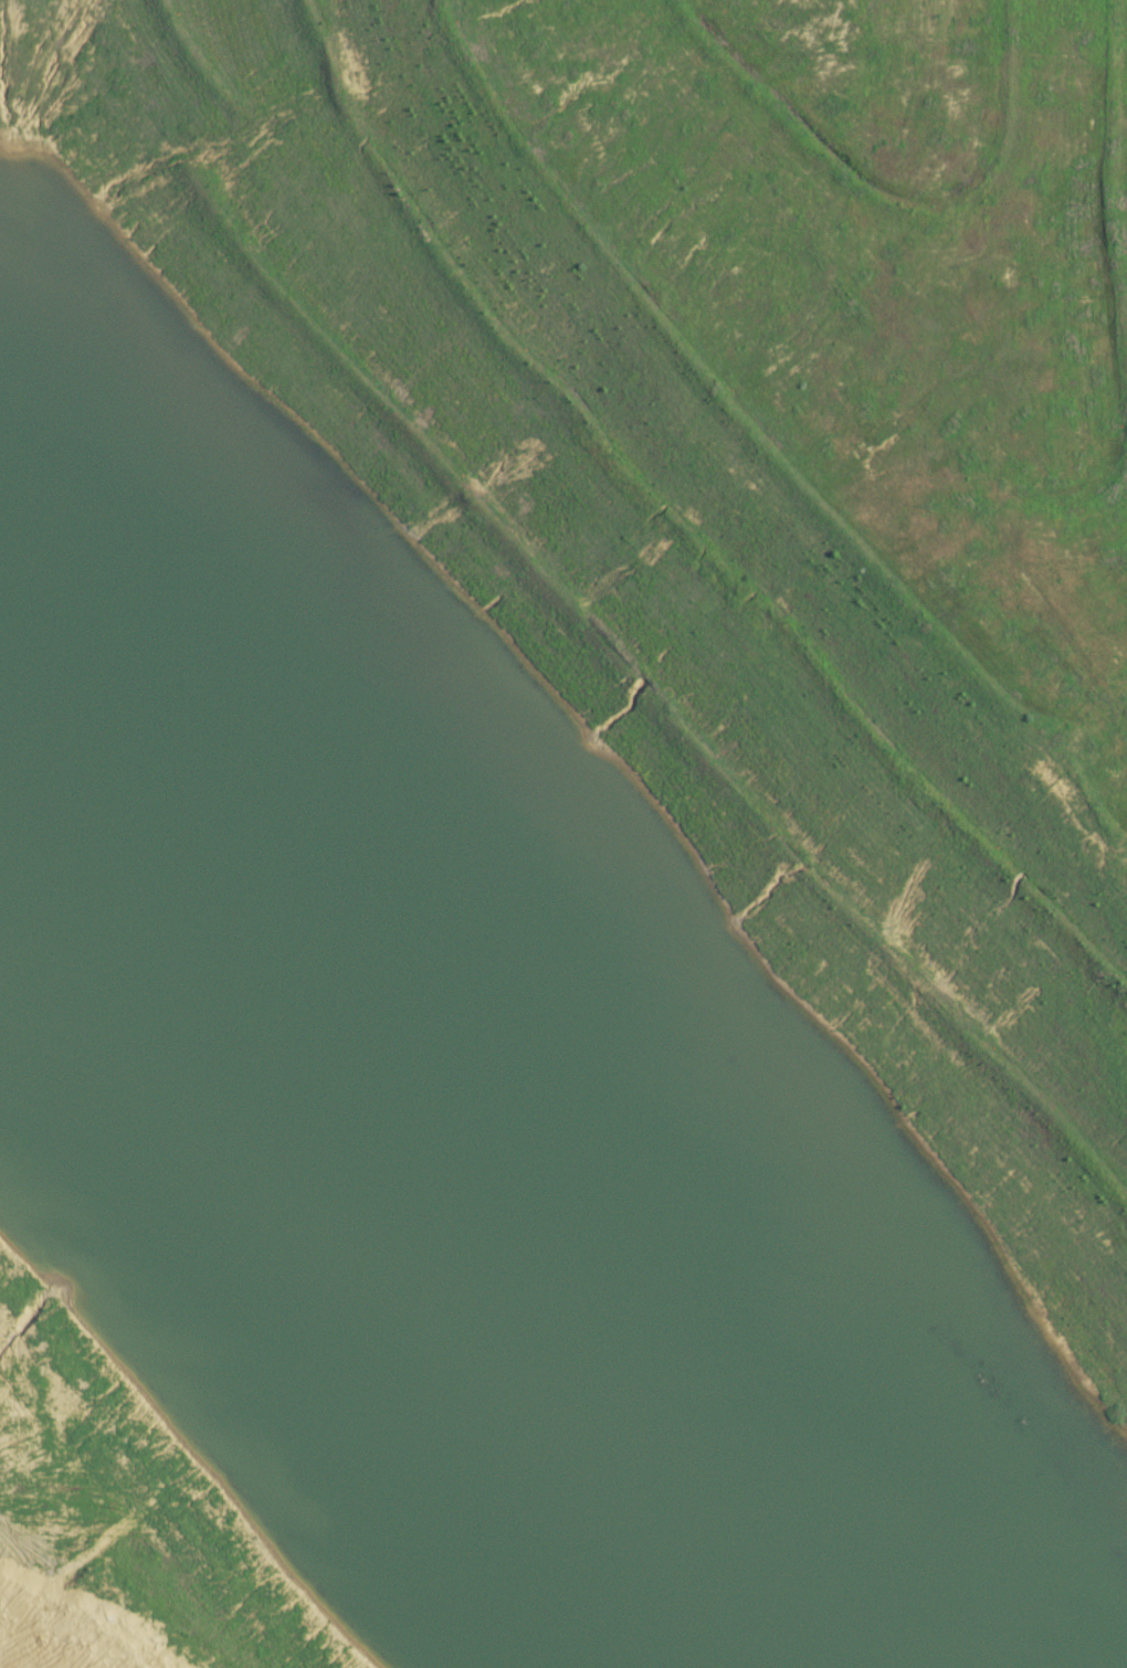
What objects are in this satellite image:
quarry: (563, 834)

